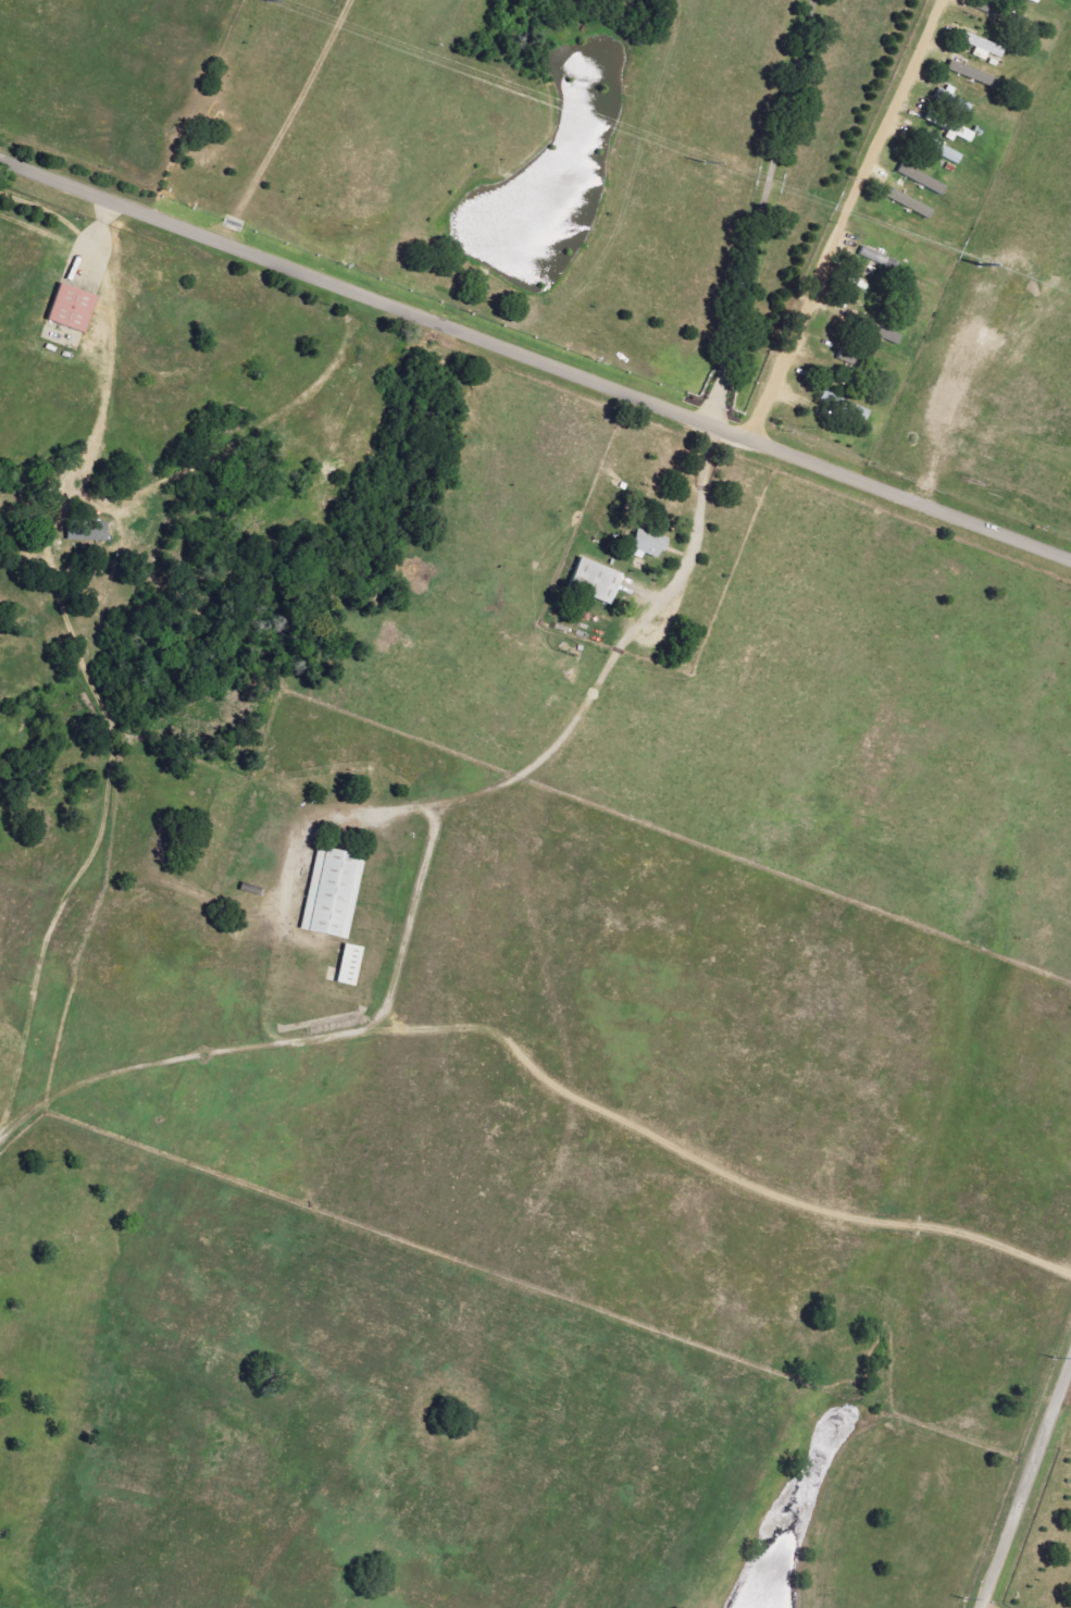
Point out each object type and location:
building: (1037, 0)
building: (984, 48)
building: (972, 74)
building: (945, 97)
road: (288, 122)
building: (950, 157)
building: (923, 181)
building: (910, 203)
road: (758, 212)
road: (844, 220)
building: (879, 259)
building: (75, 309)
building: (849, 357)
road: (537, 359)
building: (832, 403)
building: (89, 532)
building: (650, 545)
building: (598, 581)
road: (550, 759)
building: (334, 893)
building: (352, 966)
road: (164, 1074)
road: (699, 1177)
road: (1026, 1489)

